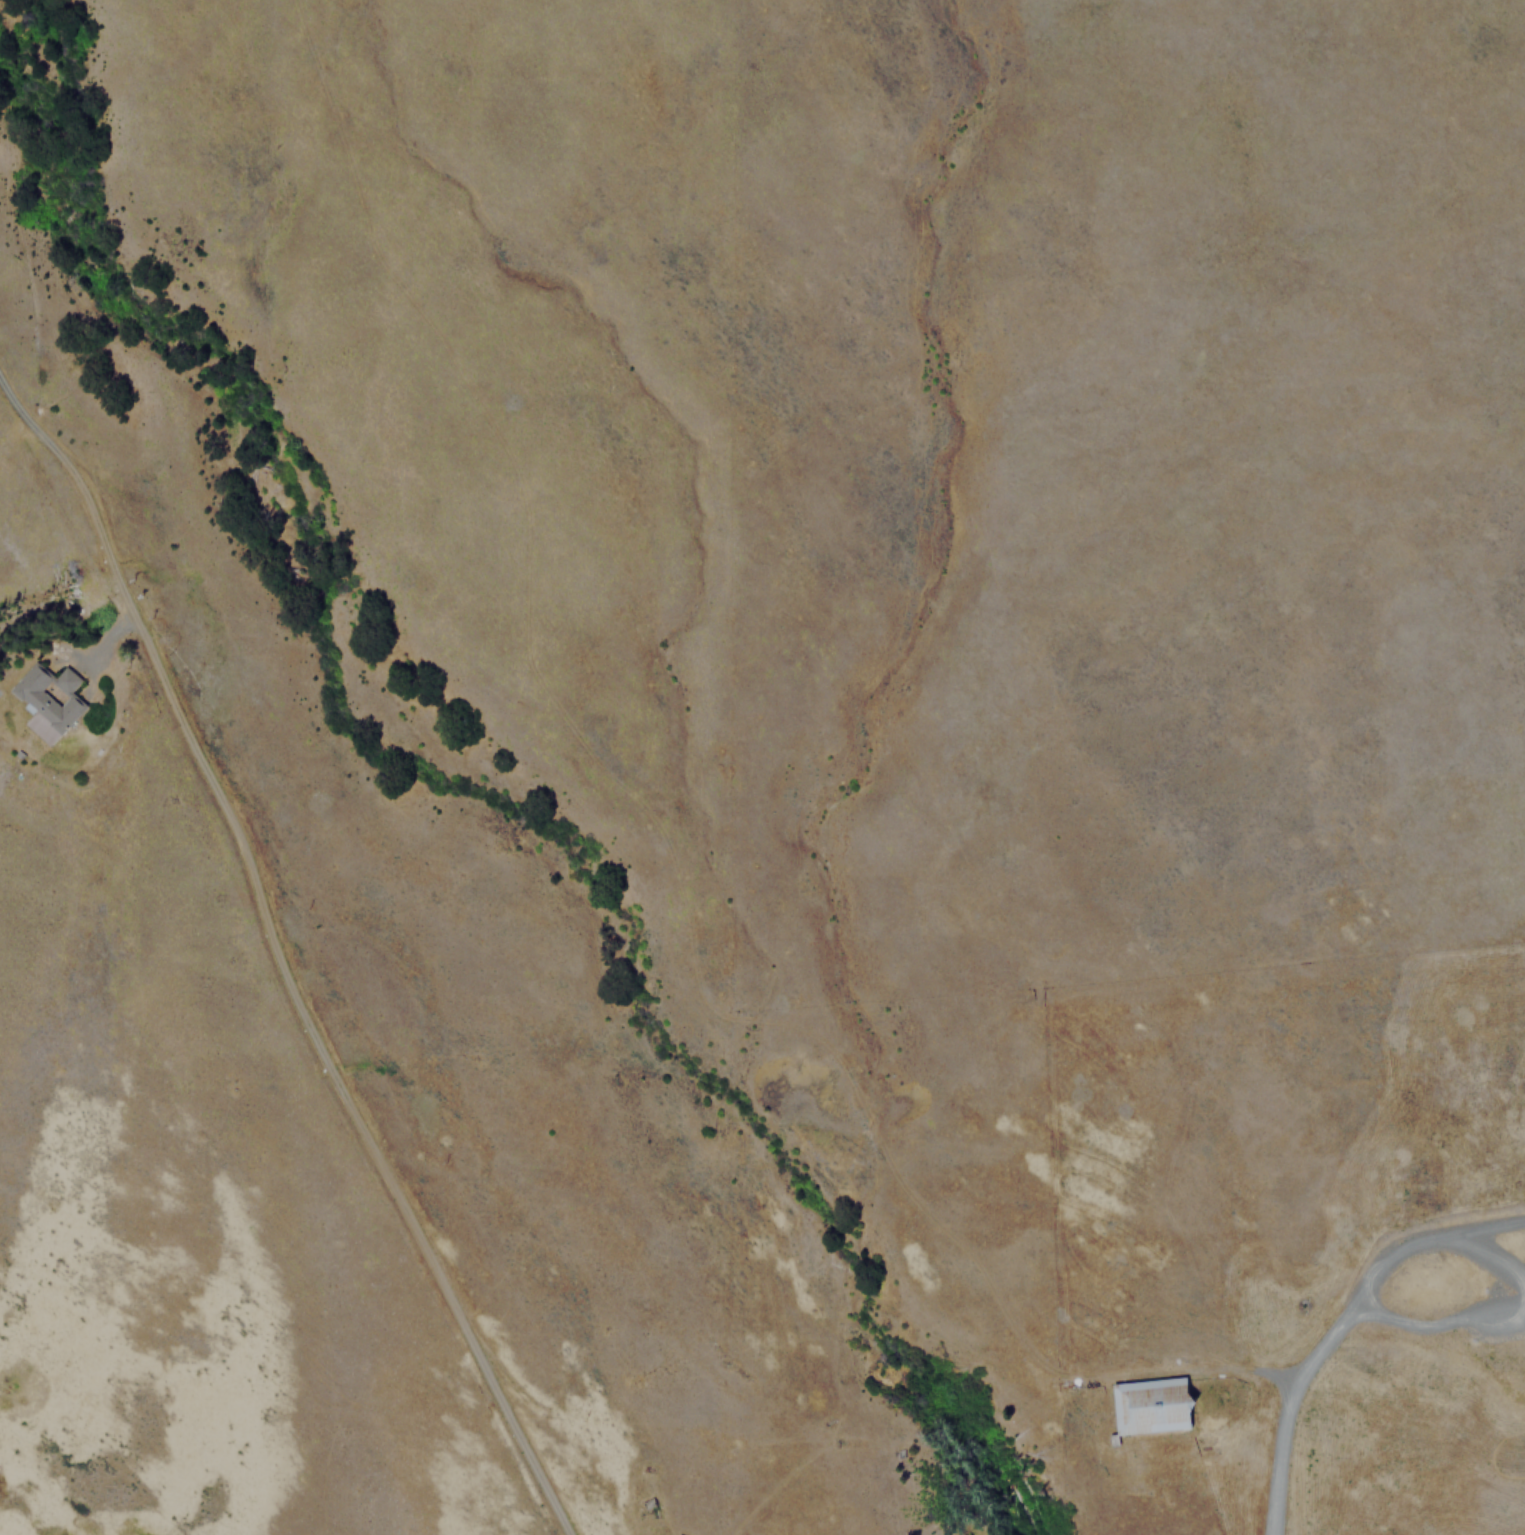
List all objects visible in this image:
road: (101, 645)
building: (52, 695)
road: (279, 958)
road: (1417, 1239)
road: (1483, 1250)
parking lot: (1508, 1276)
road: (1433, 1321)
road: (1180, 1367)
building: (1151, 1403)
road: (1285, 1417)
road: (1498, 1448)

